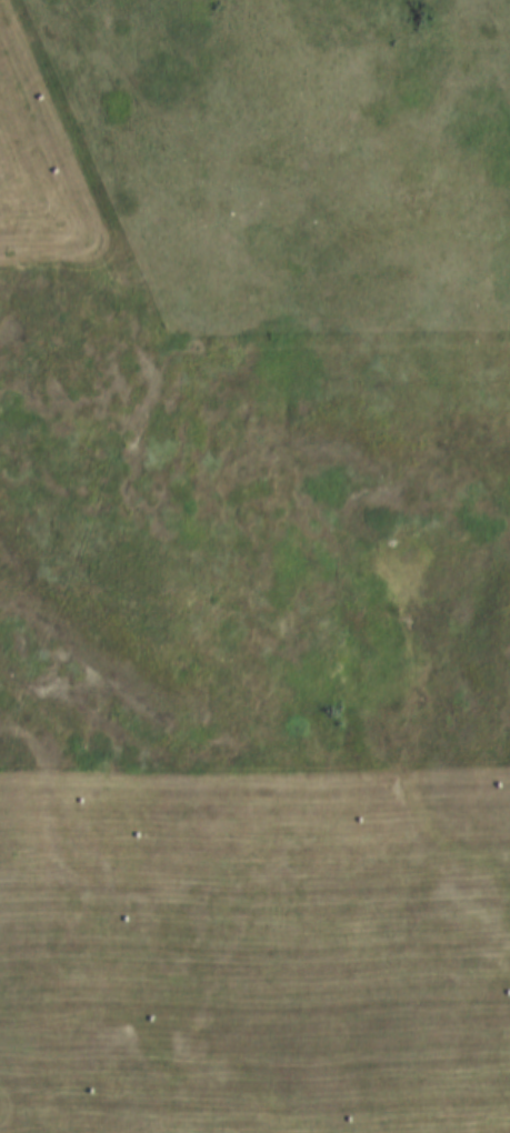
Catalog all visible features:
building: (336, 1024)

